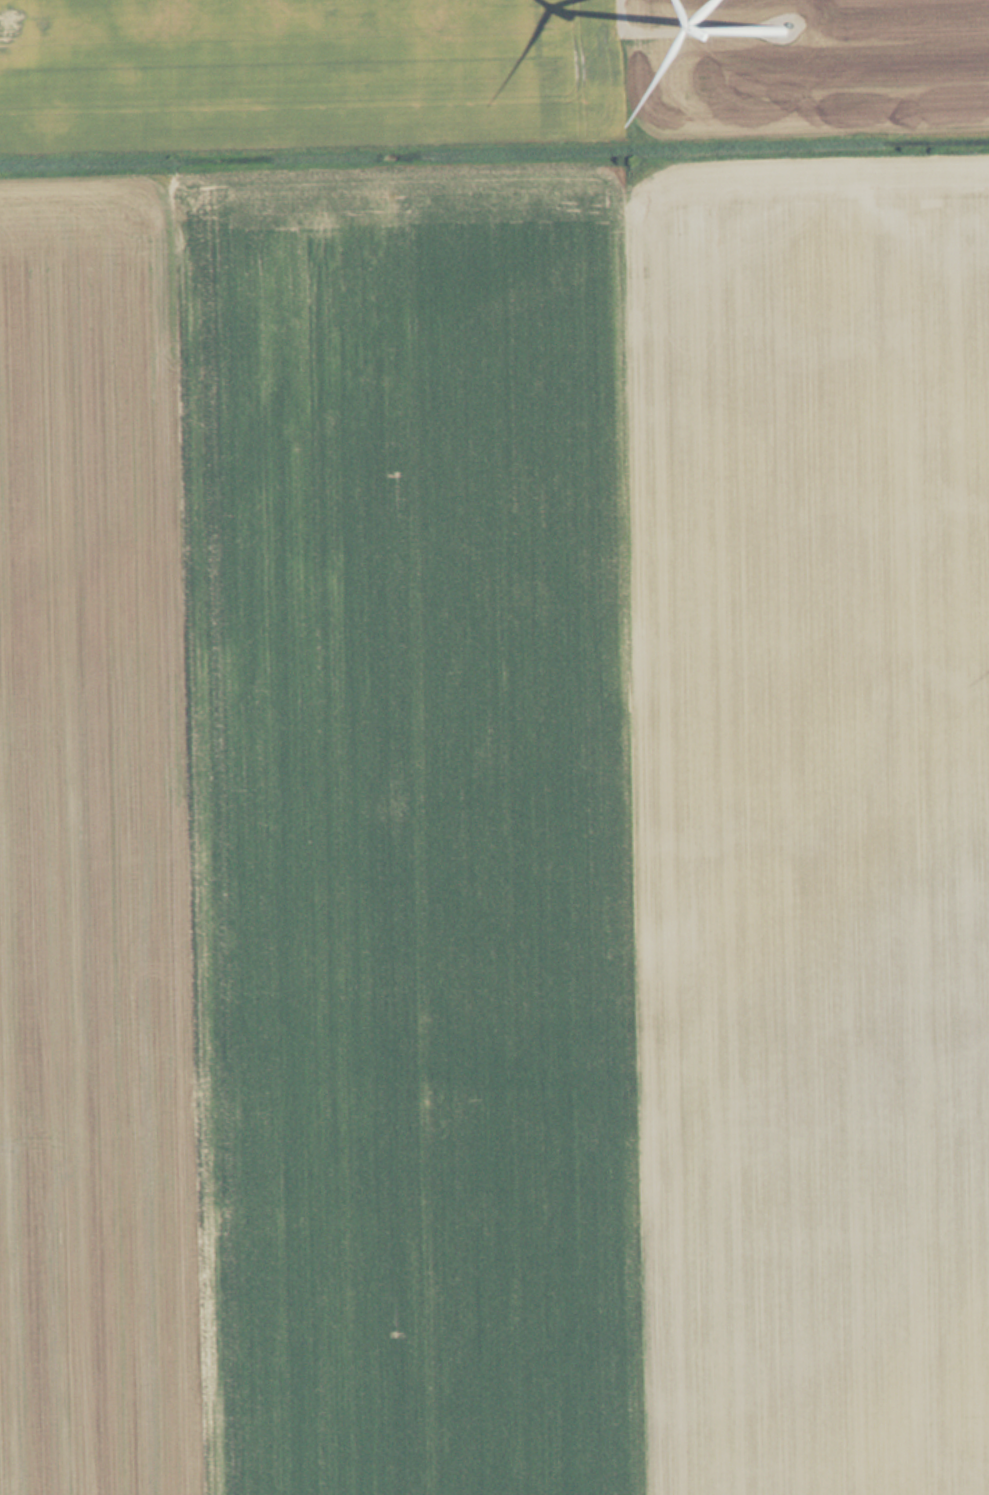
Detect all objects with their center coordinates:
wind turbine: (780, 17)
road: (657, 43)

